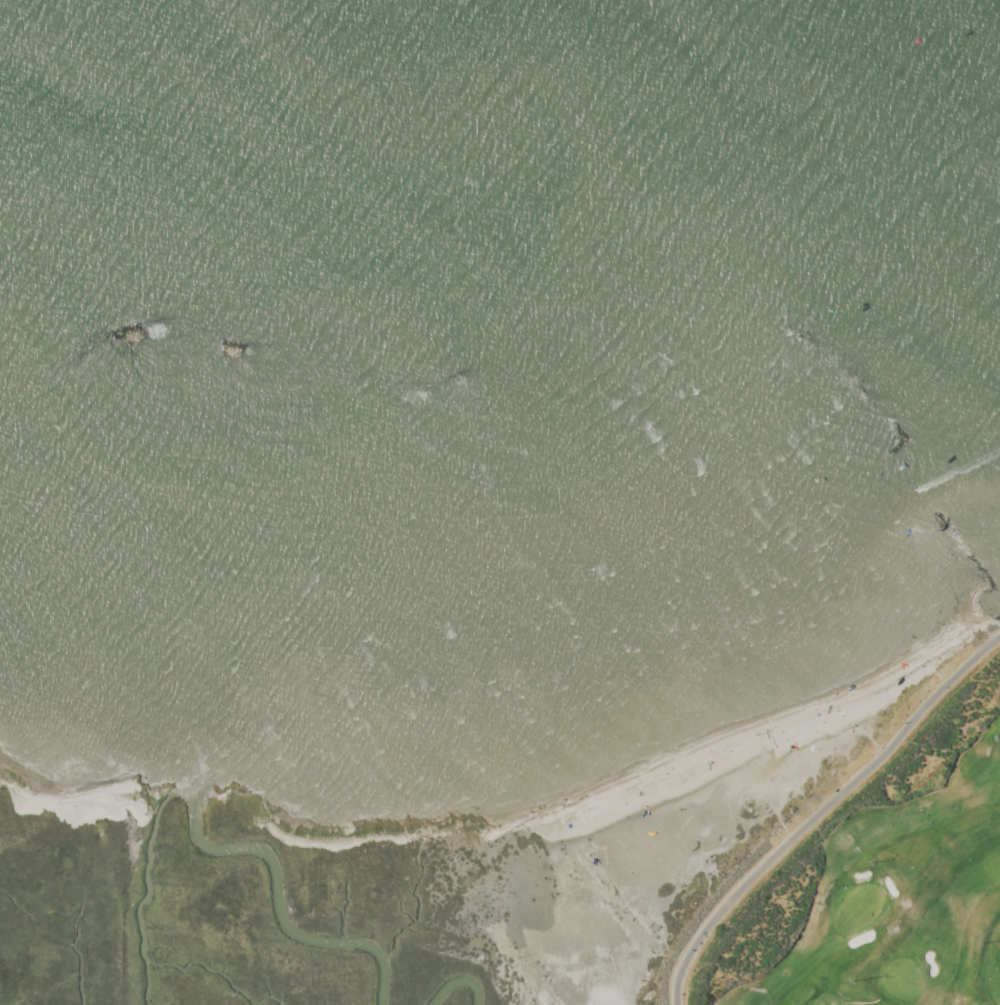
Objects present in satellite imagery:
park: (903, 901)

